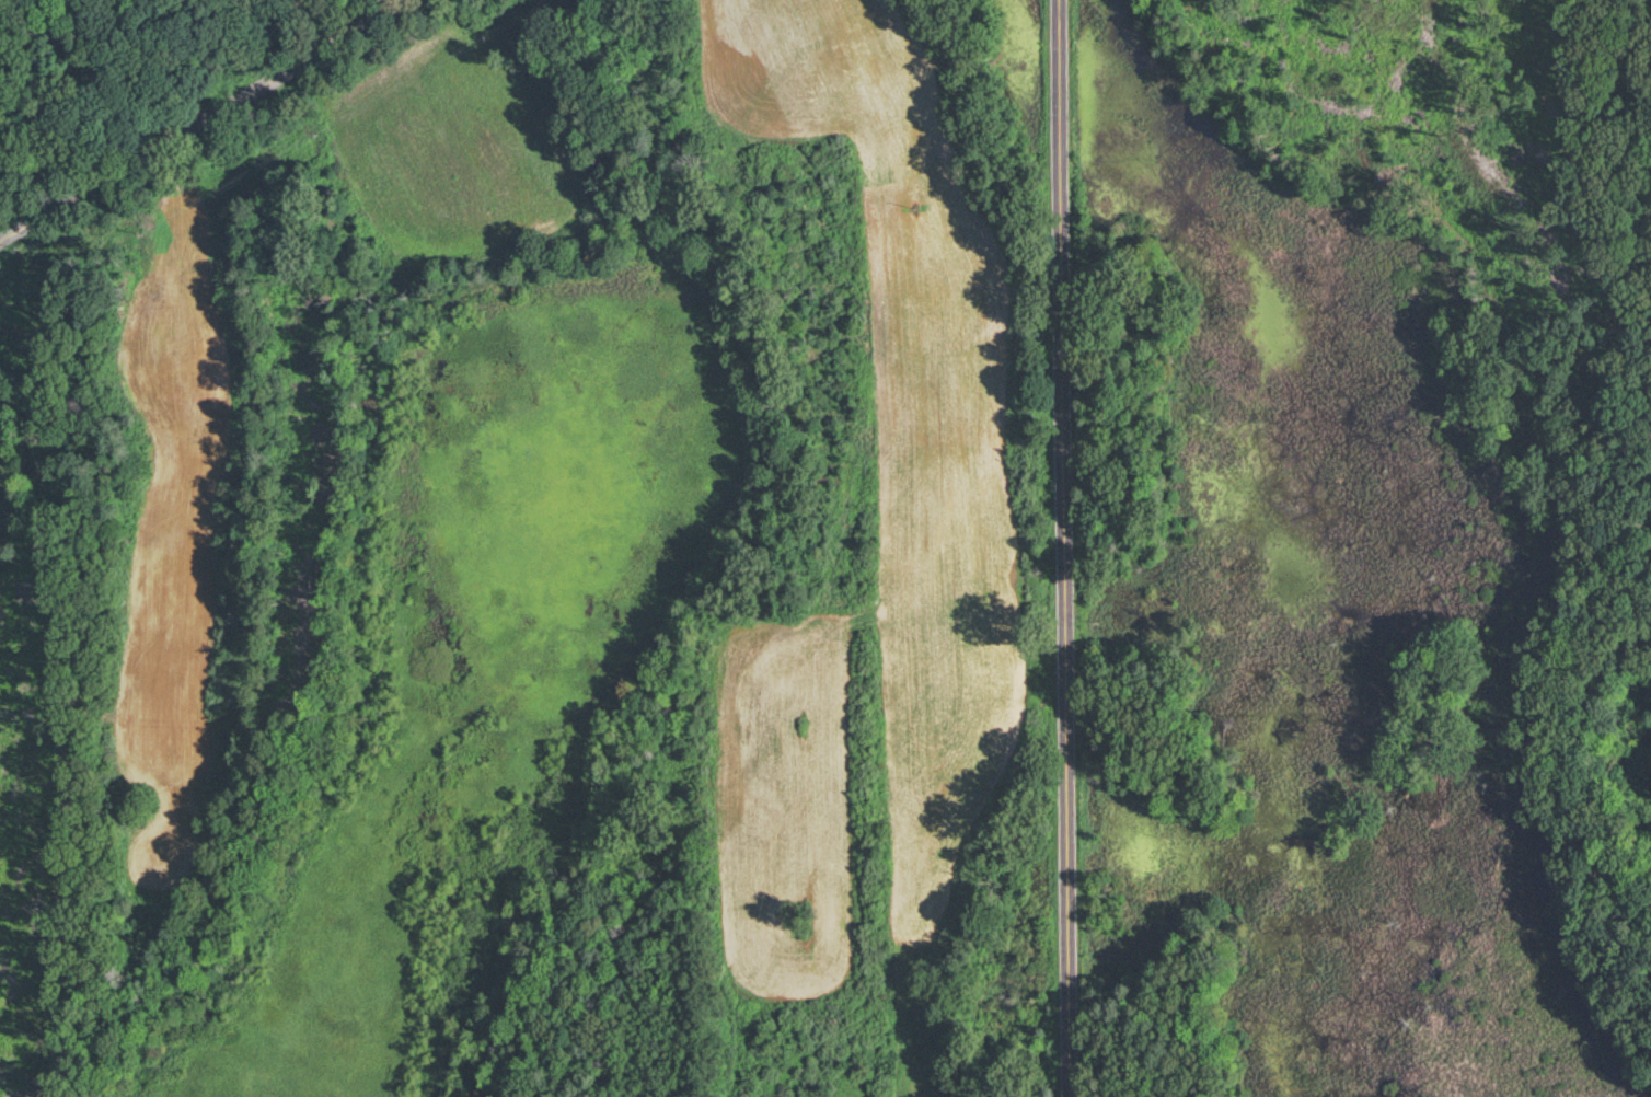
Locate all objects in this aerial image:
road: (206, 124)
road: (1063, 548)

